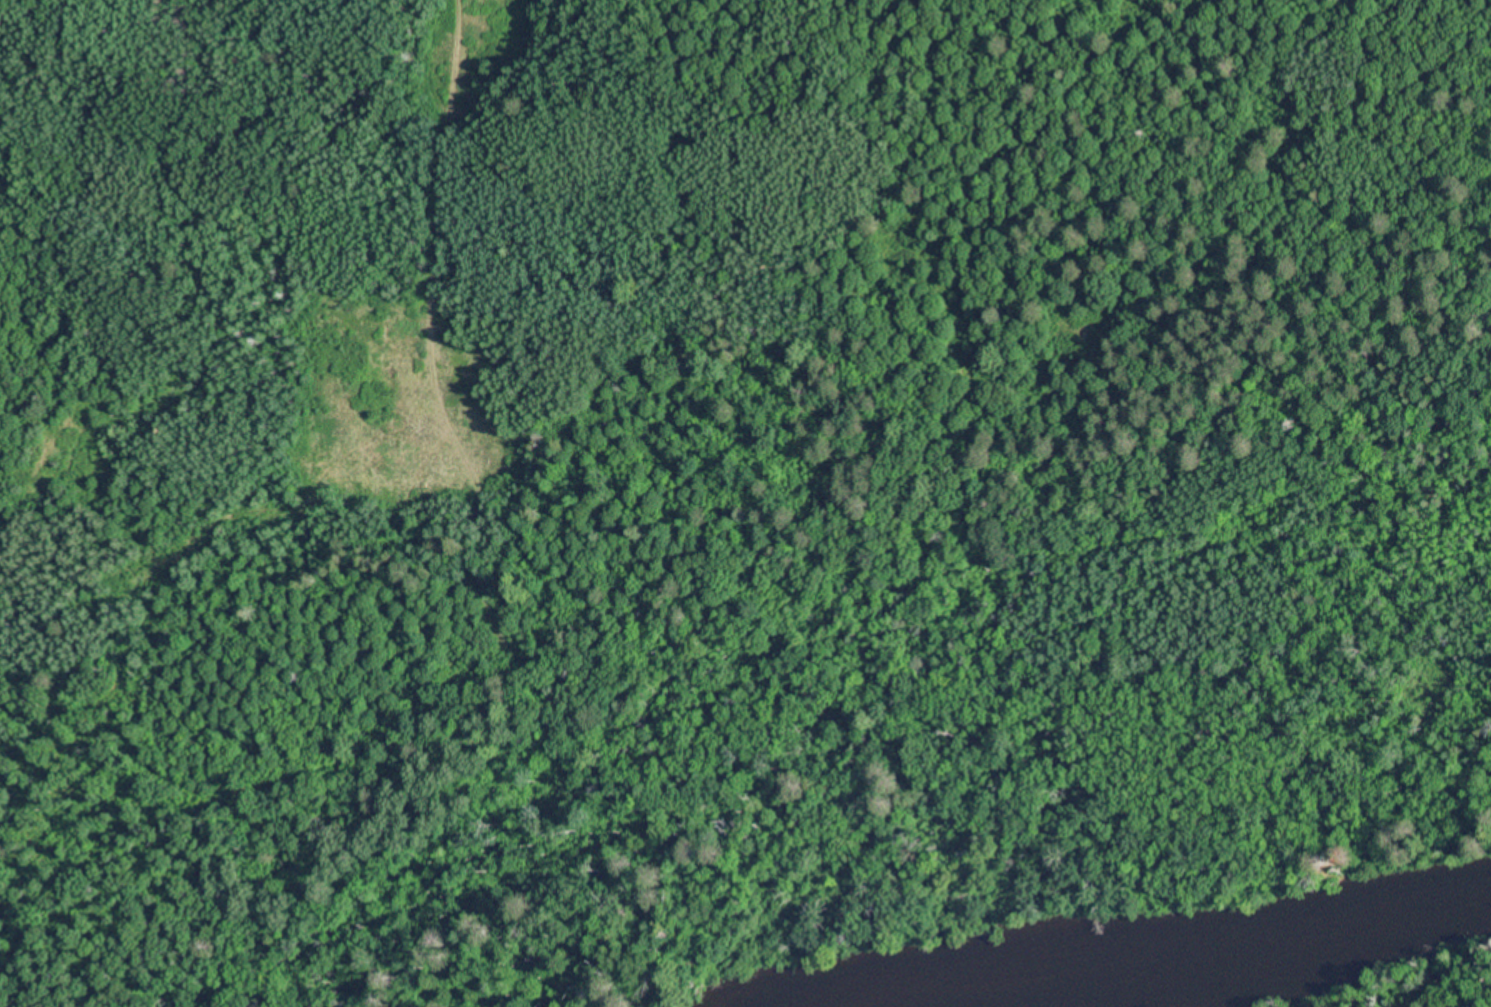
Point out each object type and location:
river: (1237, 959)

